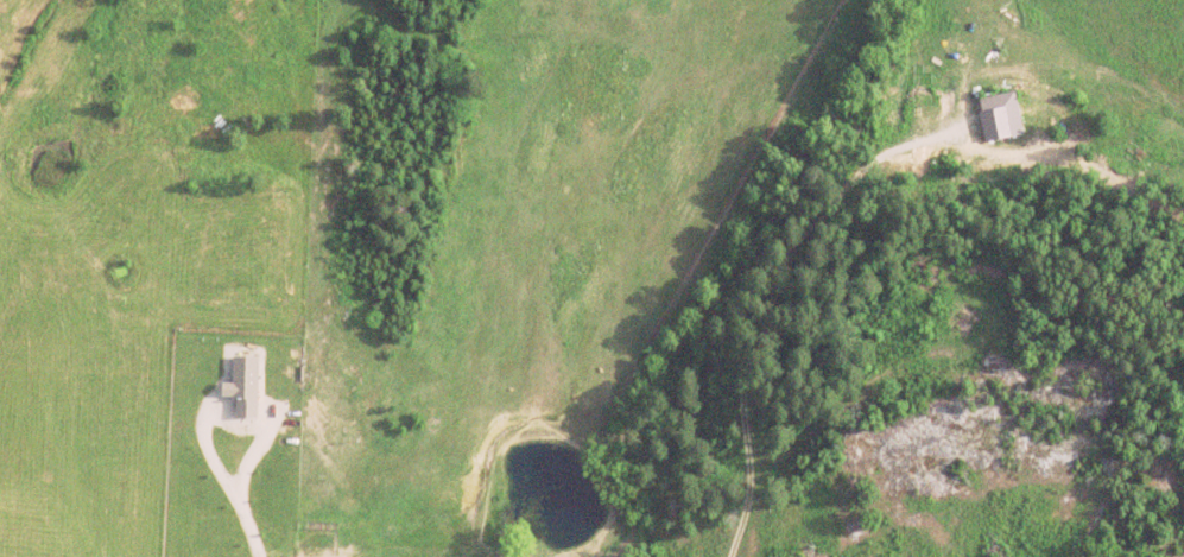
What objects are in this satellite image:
building: (1002, 115)

